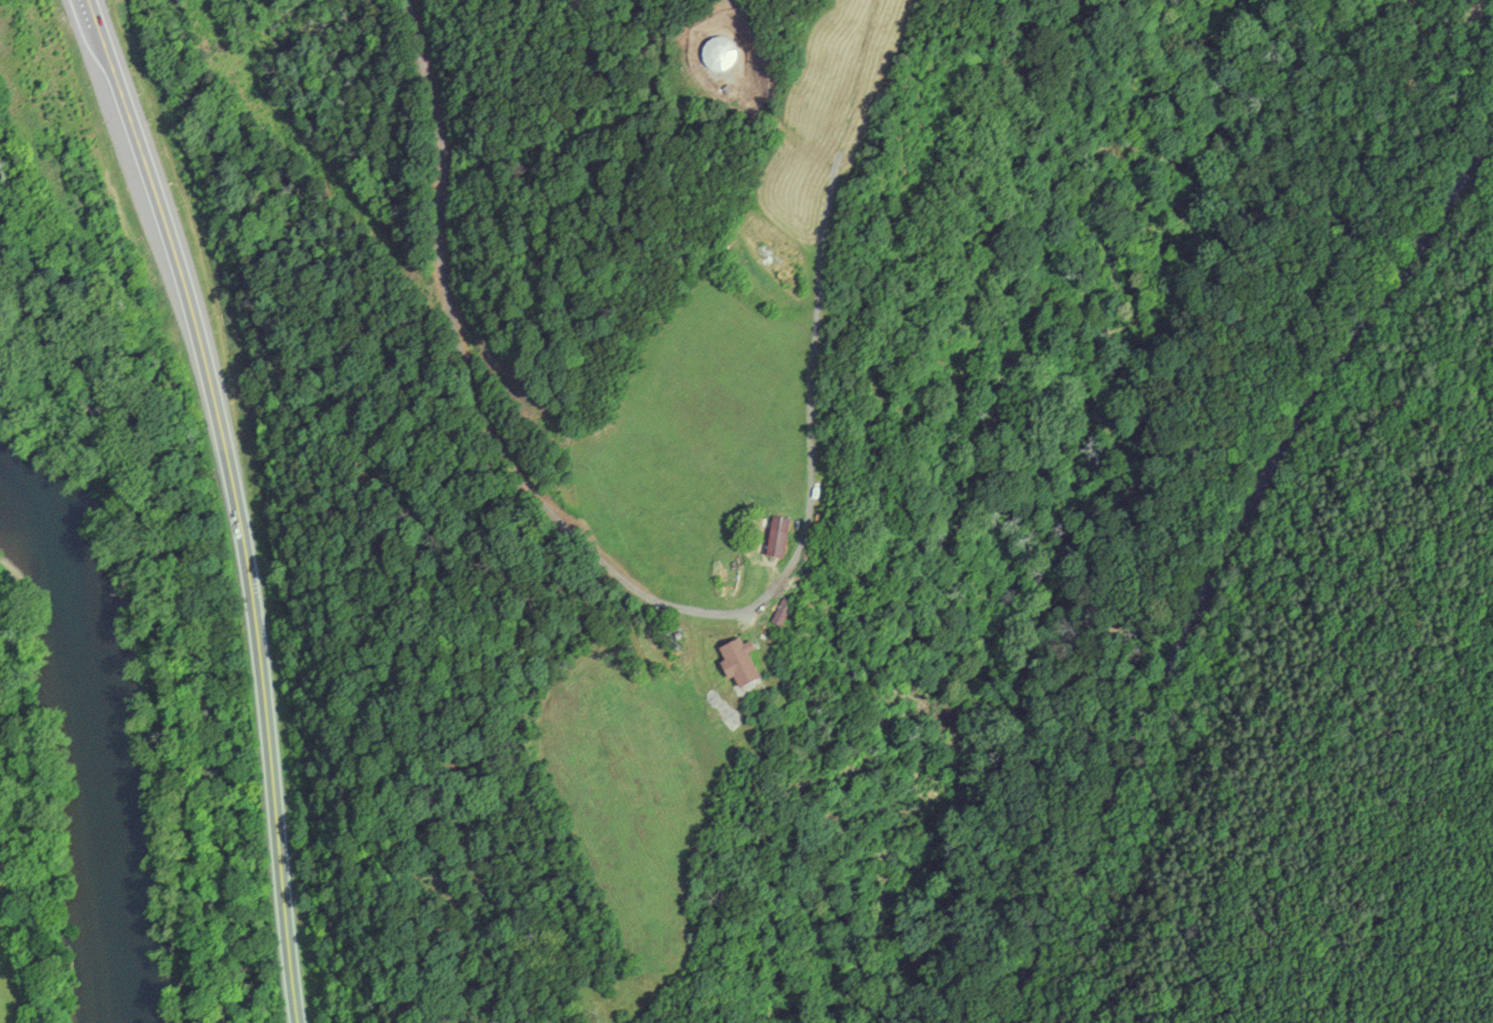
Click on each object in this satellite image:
building: (718, 53)
road: (235, 502)
building: (773, 536)
road: (1219, 564)
road: (611, 571)
road: (174, 647)
building: (734, 662)
river: (113, 728)

